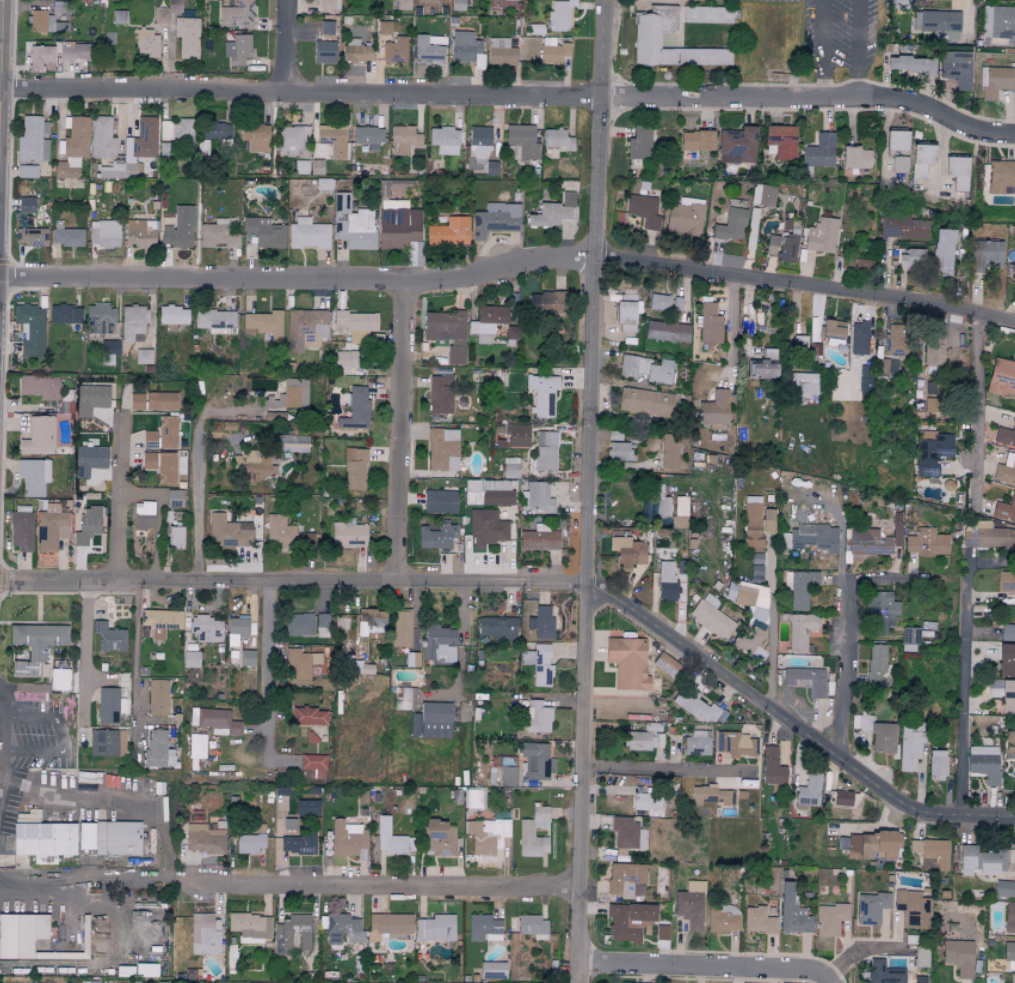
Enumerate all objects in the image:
building: (517, 0)
building: (330, 4)
building: (403, 4)
building: (898, 4)
building: (174, 5)
building: (457, 5)
building: (236, 14)
building: (707, 14)
building: (160, 15)
building: (559, 15)
building: (119, 16)
road: (968, 17)
building: (998, 22)
road: (1, 23)
building: (45, 23)
building: (937, 23)
building: (326, 27)
building: (384, 27)
building: (187, 37)
building: (647, 39)
building: (352, 41)
building: (146, 44)
road: (283, 47)
building: (466, 48)
building: (237, 49)
building: (429, 49)
building: (395, 50)
building: (73, 51)
building: (500, 51)
building: (552, 51)
road: (822, 51)
road: (858, 51)
building: (324, 52)
building: (356, 53)
building: (40, 57)
building: (912, 65)
building: (956, 68)
building: (994, 82)
road: (510, 98)
building: (176, 130)
building: (215, 130)
building: (367, 135)
building: (255, 137)
building: (101, 138)
building: (332, 138)
building: (556, 139)
building: (32, 140)
building: (291, 140)
building: (403, 140)
building: (444, 140)
building: (522, 140)
building: (896, 140)
building: (697, 141)
building: (781, 142)
building: (639, 143)
building: (737, 145)
building: (73, 147)
building: (134, 147)
building: (481, 148)
building: (164, 149)
building: (819, 151)
building: (856, 158)
building: (921, 159)
building: (899, 164)
building: (316, 167)
building: (27, 171)
building: (957, 172)
building: (1001, 177)
building: (324, 184)
building: (763, 195)
building: (26, 205)
building: (643, 210)
building: (552, 212)
building: (684, 216)
building: (496, 219)
building: (353, 224)
building: (398, 224)
building: (731, 225)
building: (902, 227)
building: (179, 228)
building: (264, 232)
building: (449, 232)
building: (140, 233)
building: (104, 234)
building: (218, 234)
building: (308, 234)
building: (821, 235)
building: (67, 236)
building: (30, 237)
building: (784, 246)
building: (943, 252)
building: (984, 255)
building: (911, 259)
building: (862, 264)
building: (1011, 270)
road: (805, 280)
road: (298, 283)
building: (659, 302)
building: (545, 303)
building: (677, 303)
building: (627, 313)
building: (64, 315)
building: (173, 315)
building: (99, 319)
building: (215, 320)
building: (356, 321)
building: (133, 323)
building: (486, 323)
building: (263, 324)
building: (710, 324)
road: (731, 325)
building: (31, 329)
building: (305, 329)
building: (667, 331)
building: (833, 332)
building: (447, 333)
building: (511, 334)
building: (354, 338)
building: (859, 338)
building: (895, 340)
building: (109, 347)
building: (934, 350)
building: (144, 356)
building: (341, 359)
building: (632, 366)
building: (764, 366)
building: (882, 366)
building: (660, 372)
building: (865, 377)
building: (1002, 378)
building: (803, 384)
building: (40, 386)
building: (440, 394)
building: (542, 394)
building: (290, 395)
road: (976, 395)
building: (90, 399)
building: (152, 401)
building: (646, 402)
building: (355, 408)
building: (714, 409)
building: (274, 416)
building: (167, 432)
road: (400, 435)
building: (615, 435)
building: (517, 436)
building: (1005, 436)
building: (38, 437)
building: (150, 439)
building: (442, 449)
building: (545, 451)
building: (670, 451)
building: (931, 451)
building: (620, 452)
building: (88, 460)
building: (161, 466)
building: (254, 466)
building: (510, 468)
building: (355, 470)
building: (1006, 470)
building: (33, 476)
road: (111, 482)
road: (587, 491)
building: (489, 493)
building: (174, 498)
building: (536, 498)
road: (197, 501)
building: (439, 502)
building: (662, 505)
building: (681, 506)
building: (49, 507)
building: (1005, 510)
building: (143, 516)
building: (769, 521)
building: (752, 522)
building: (87, 525)
building: (487, 528)
building: (50, 530)
building: (21, 531)
building: (229, 532)
building: (279, 532)
building: (896, 533)
building: (349, 535)
building: (437, 536)
building: (175, 537)
building: (812, 537)
building: (987, 537)
building: (539, 539)
building: (306, 541)
building: (868, 542)
building: (926, 542)
building: (628, 552)
building: (757, 558)
building: (757, 573)
building: (1006, 580)
building: (666, 581)
road: (544, 585)
building: (800, 587)
building: (748, 594)
building: (881, 612)
building: (711, 617)
building: (160, 622)
building: (370, 622)
building: (541, 623)
building: (298, 624)
building: (322, 625)
road: (770, 625)
building: (238, 626)
building: (401, 628)
building: (497, 628)
building: (205, 629)
building: (801, 632)
building: (1007, 632)
building: (910, 637)
building: (109, 638)
road: (848, 640)
building: (438, 644)
building: (35, 645)
road: (134, 654)
road: (87, 658)
building: (246, 658)
building: (191, 659)
building: (412, 659)
building: (1006, 660)
building: (299, 663)
building: (628, 663)
building: (876, 663)
building: (539, 664)
building: (664, 664)
road: (266, 670)
building: (59, 680)
building: (805, 680)
road: (969, 689)
building: (1008, 697)
building: (158, 698)
building: (108, 706)
building: (695, 706)
road: (1, 710)
building: (309, 717)
building: (537, 717)
building: (431, 721)
building: (855, 721)
building: (214, 722)
road: (59, 736)
building: (644, 738)
building: (883, 738)
building: (107, 743)
building: (697, 743)
building: (1009, 744)
building: (736, 745)
building: (197, 746)
building: (909, 749)
building: (158, 750)
building: (536, 761)
building: (984, 763)
building: (314, 765)
building: (937, 766)
building: (771, 767)
building: (494, 775)
building: (508, 776)
road: (674, 776)
building: (88, 777)
building: (281, 791)
building: (809, 791)
building: (711, 796)
building: (842, 798)
building: (474, 799)
building: (647, 802)
building: (306, 808)
road: (153, 812)
building: (290, 824)
building: (526, 833)
building: (628, 834)
building: (487, 836)
building: (85, 837)
building: (117, 838)
building: (439, 838)
building: (43, 840)
building: (204, 840)
building: (348, 840)
building: (389, 840)
building: (249, 844)
building: (297, 845)
building: (872, 845)
building: (932, 851)
building: (44, 860)
building: (981, 861)
building: (625, 878)
road: (39, 880)
road: (172, 882)
road: (378, 887)
building: (1004, 888)
building: (690, 905)
building: (871, 907)
building: (912, 908)
building: (792, 911)
building: (723, 918)
building: (830, 918)
building: (1009, 918)
building: (629, 920)
building: (758, 920)
building: (388, 926)
building: (533, 926)
building: (251, 927)
building: (435, 928)
building: (484, 928)
building: (343, 930)
building: (21, 933)
building: (203, 934)
building: (282, 941)
building: (85, 949)
road: (860, 949)
building: (1009, 955)
building: (959, 956)
building: (921, 957)
road: (132, 962)
road: (701, 968)
building: (146, 969)
building: (493, 969)
building: (884, 972)
road: (828, 980)
building: (633, 982)

